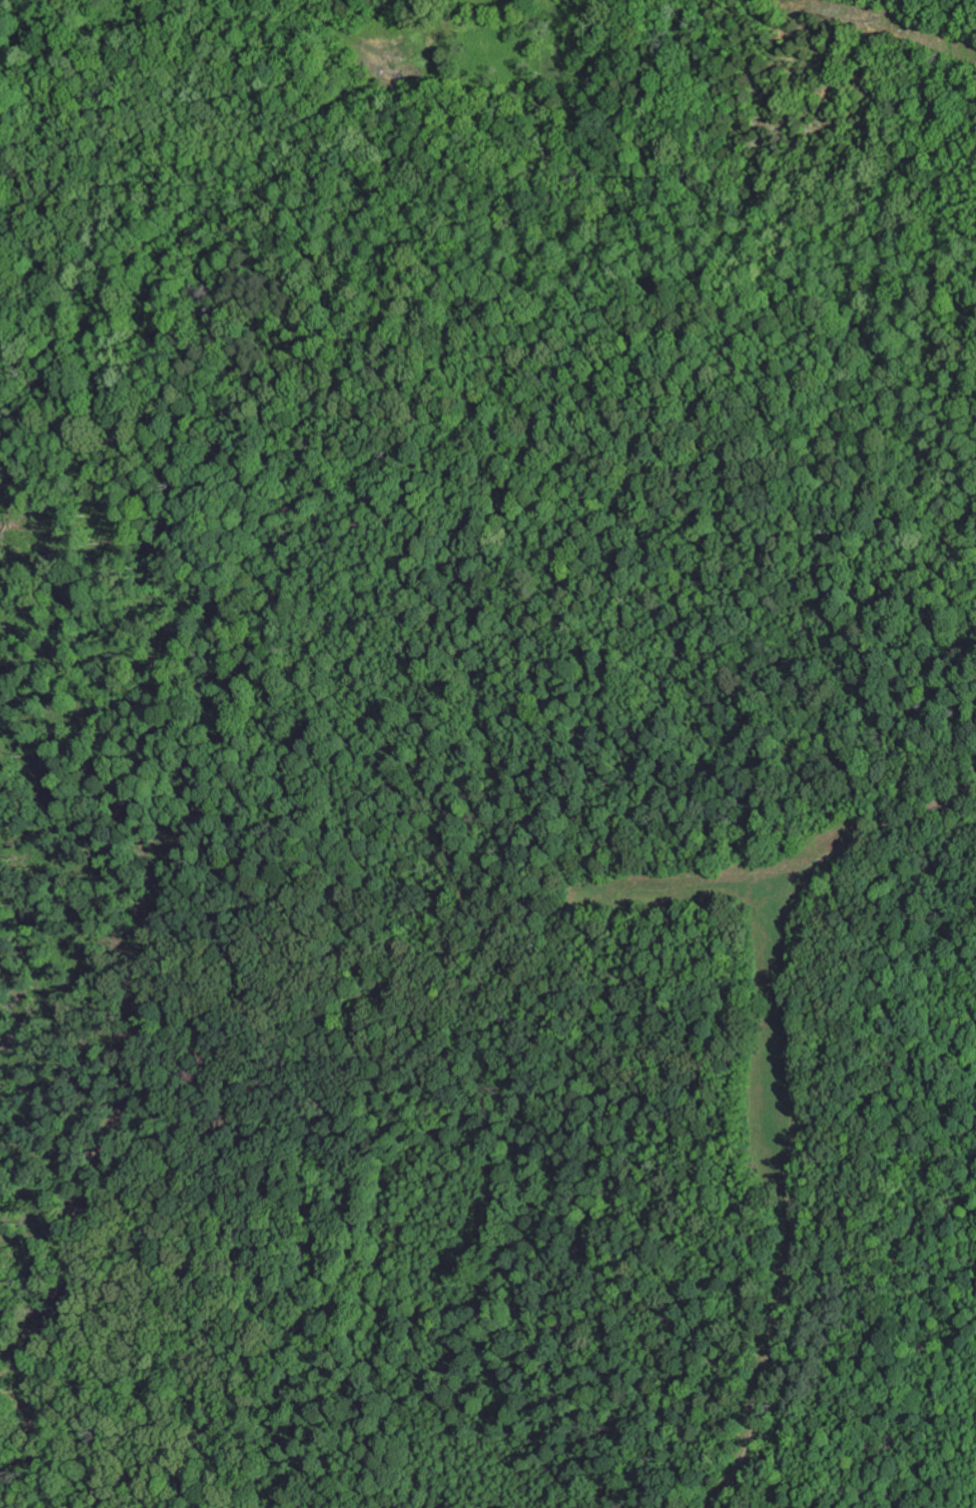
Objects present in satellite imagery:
road: (81, 202)
road: (835, 1378)

